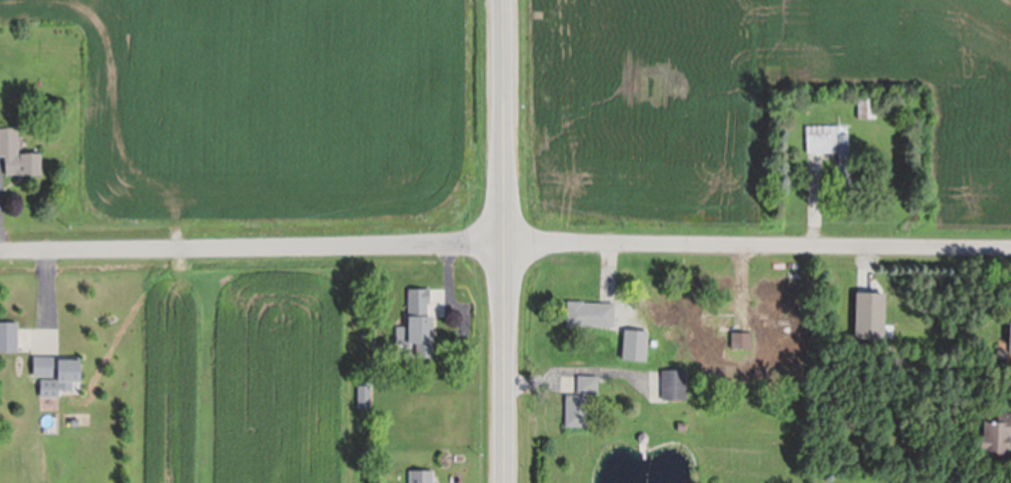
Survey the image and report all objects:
building: (867, 107)
crop: (274, 114)
building: (832, 147)
building: (17, 155)
road: (506, 241)
road: (759, 246)
road: (253, 250)
building: (590, 314)
building: (870, 317)
building: (776, 323)
building: (418, 324)
building: (9, 338)
building: (1010, 339)
building: (741, 341)
building: (948, 351)
building: (1001, 355)
building: (57, 374)
crop: (169, 380)
building: (800, 380)
building: (588, 385)
building: (675, 385)
building: (364, 399)
building: (883, 404)
building: (577, 411)
building: (682, 427)
building: (643, 438)
building: (996, 438)
building: (421, 476)

